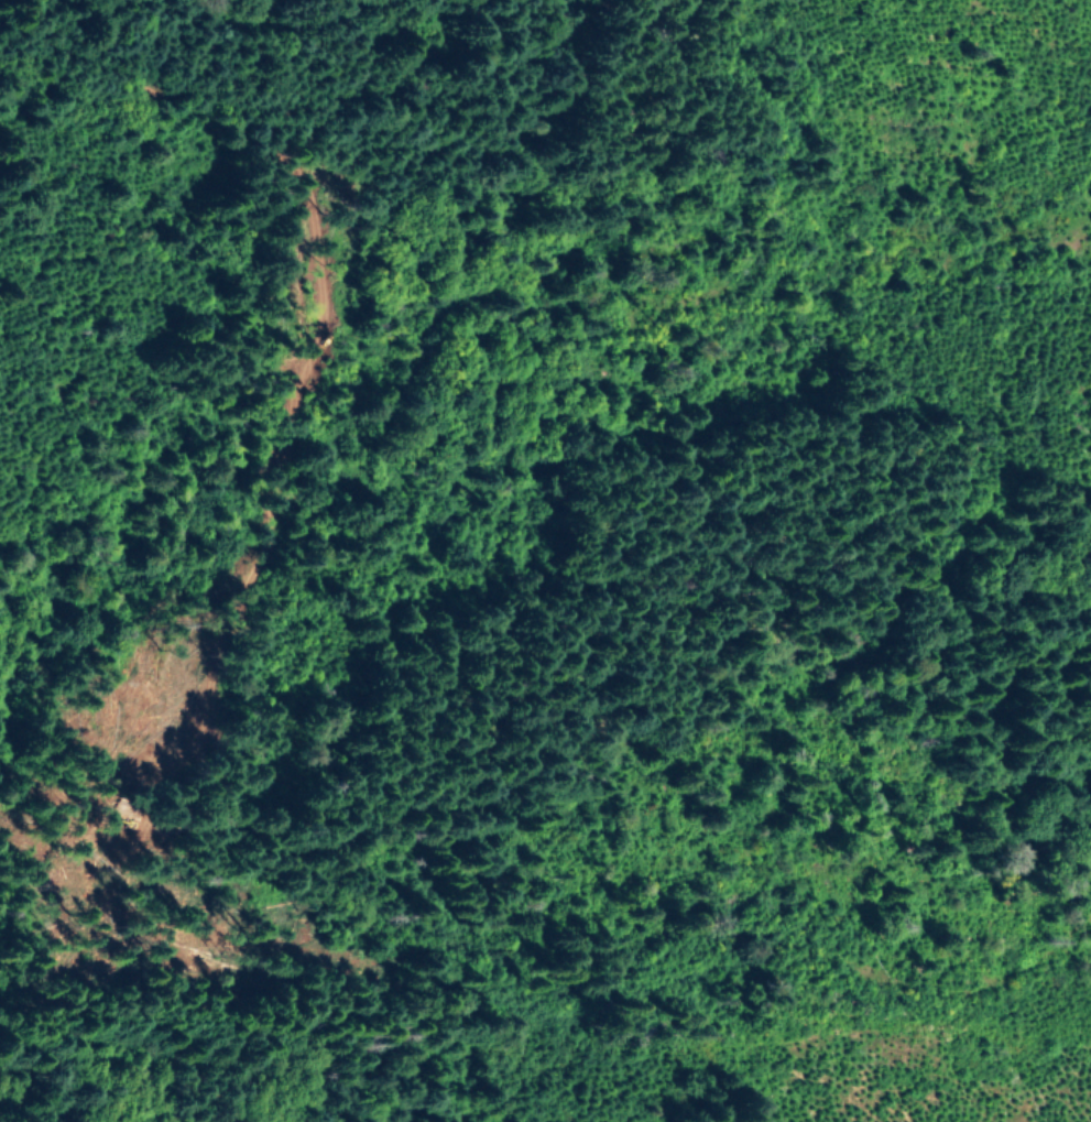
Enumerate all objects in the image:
road: (722, 196)
road: (369, 227)
road: (176, 263)
road: (615, 562)
road: (930, 823)
road: (404, 937)
road: (108, 1077)

